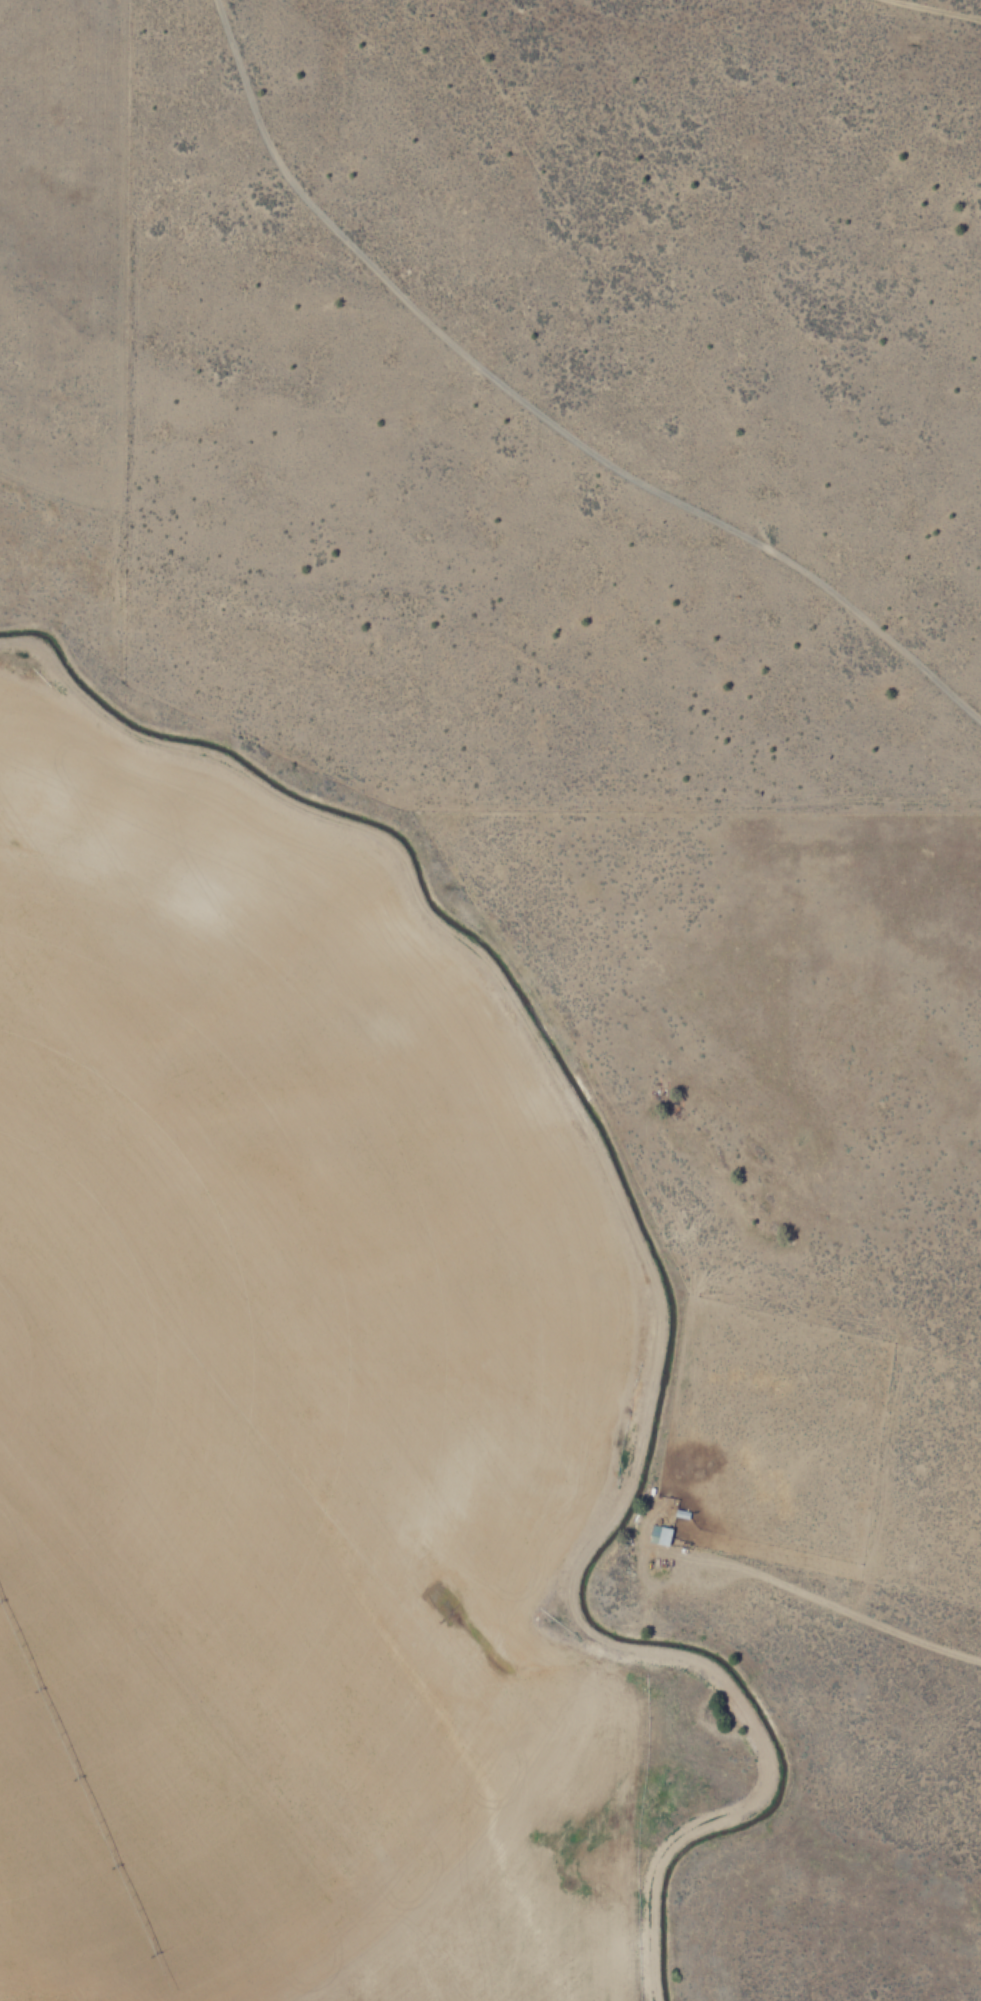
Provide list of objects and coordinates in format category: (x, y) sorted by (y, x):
road: (539, 415)
crop: (457, 1322)

